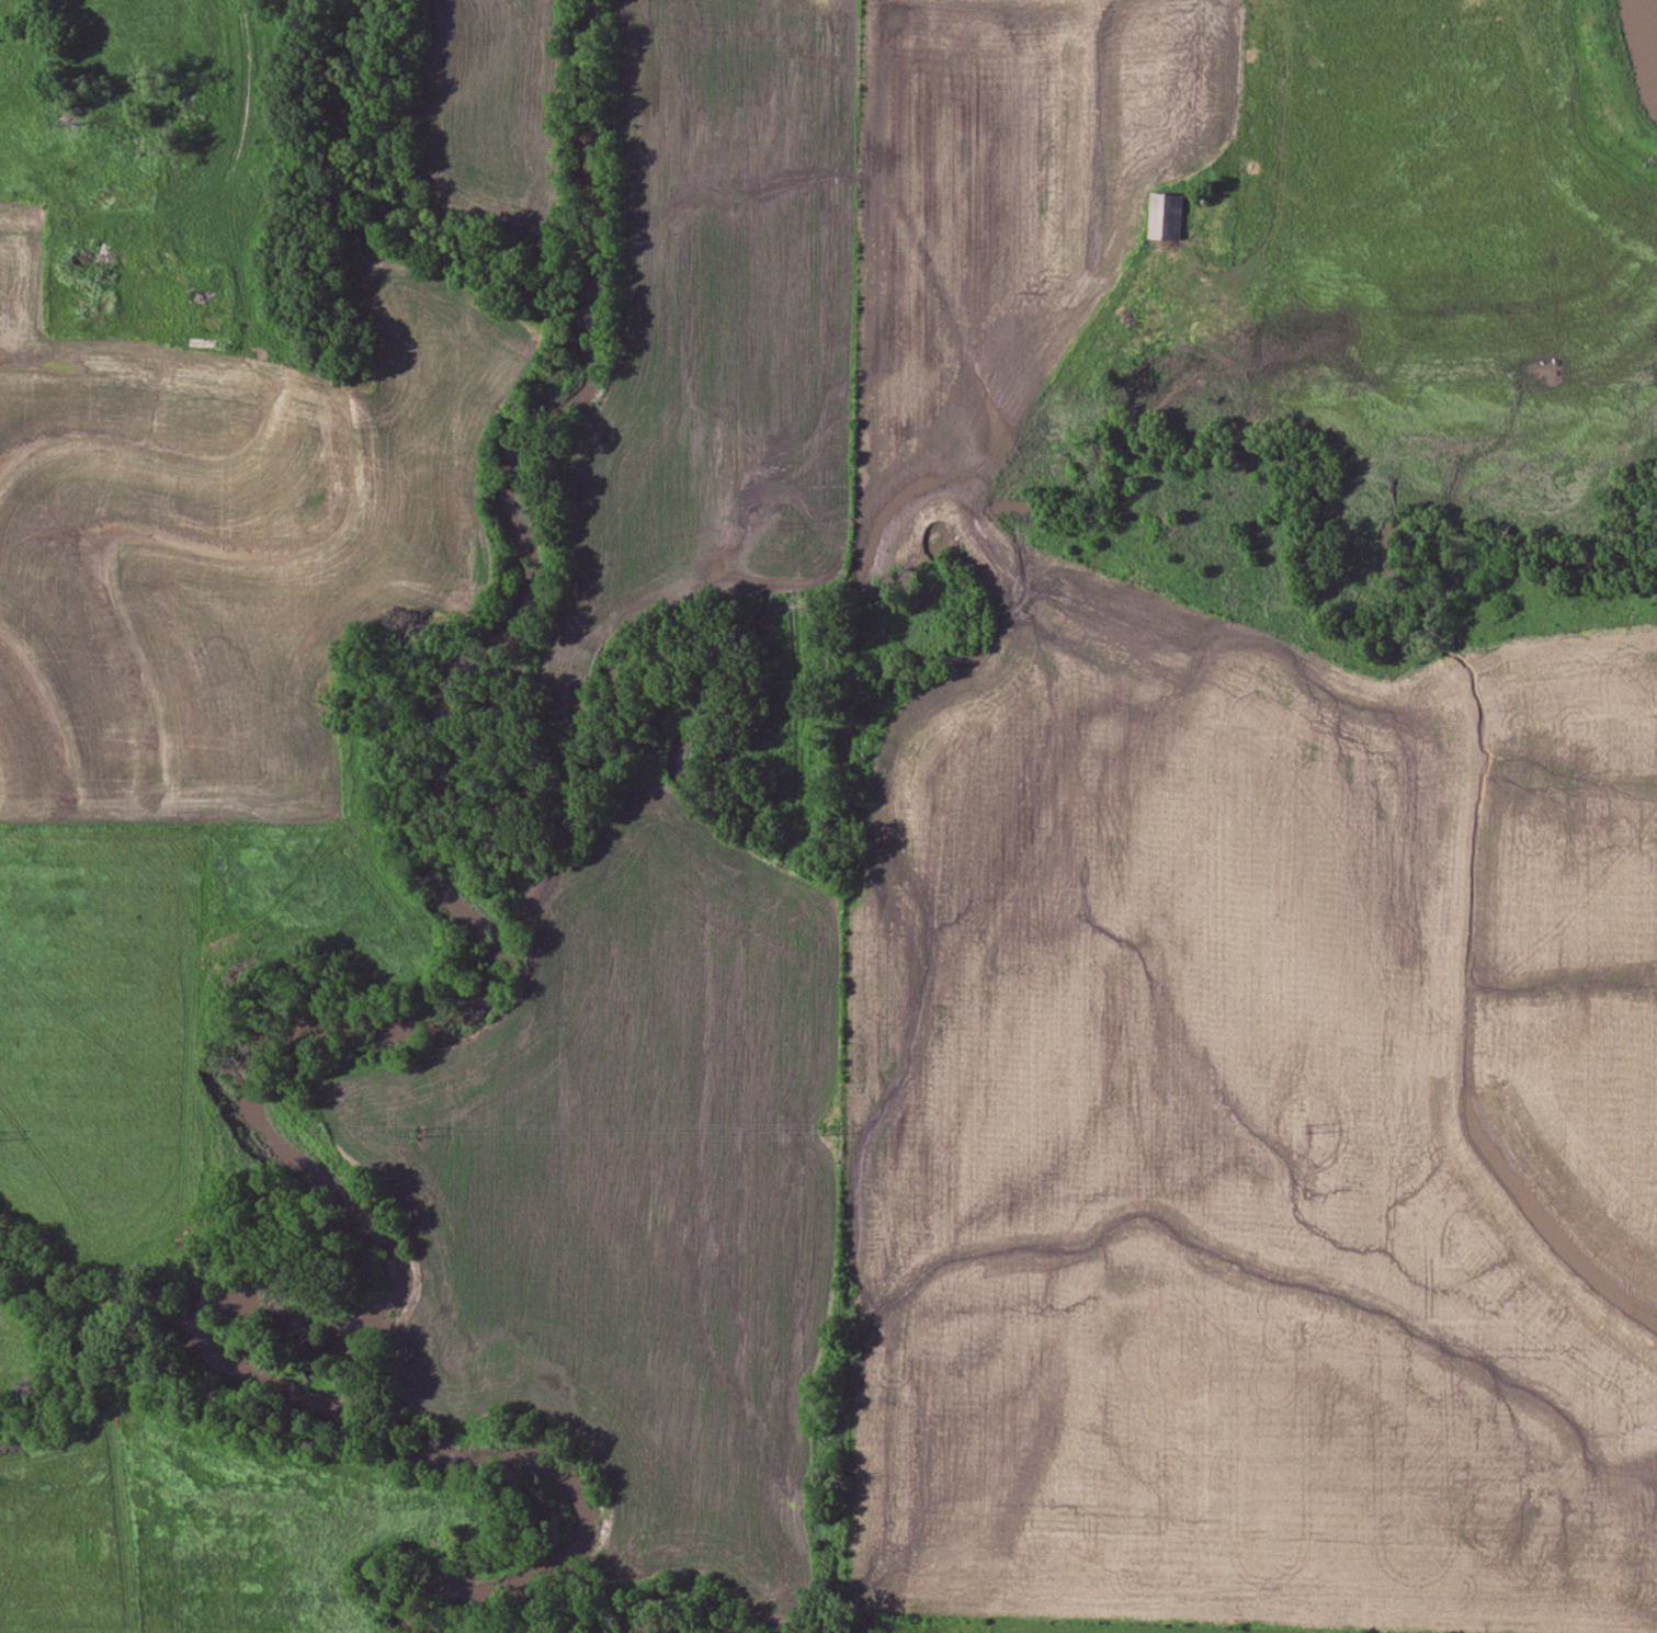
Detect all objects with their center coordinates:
building: (184, 102)
road: (232, 124)
building: (1166, 217)
building: (200, 282)
power tower: (1306, 1130)
power tower: (817, 1131)
power tower: (415, 1134)

